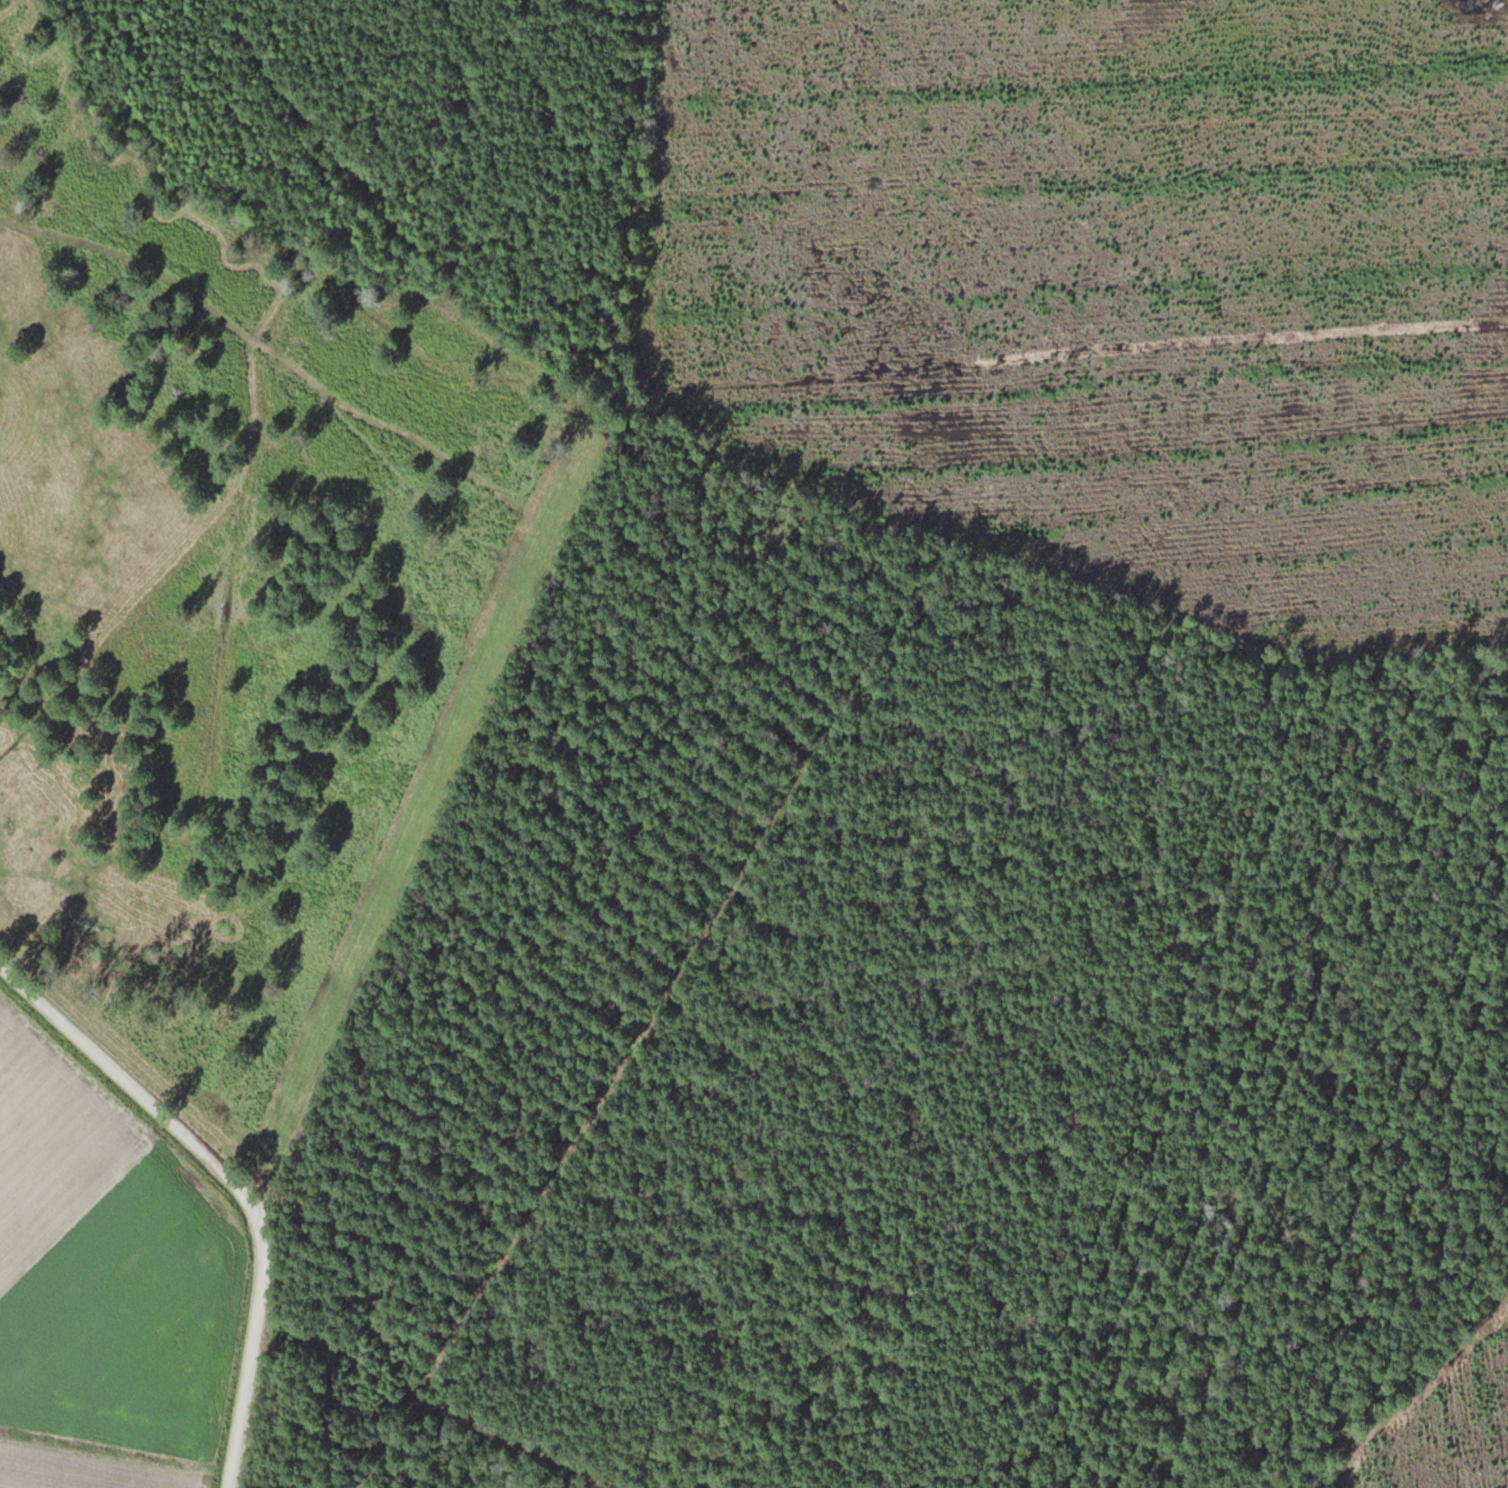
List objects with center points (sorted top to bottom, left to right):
road: (232, 1183)

